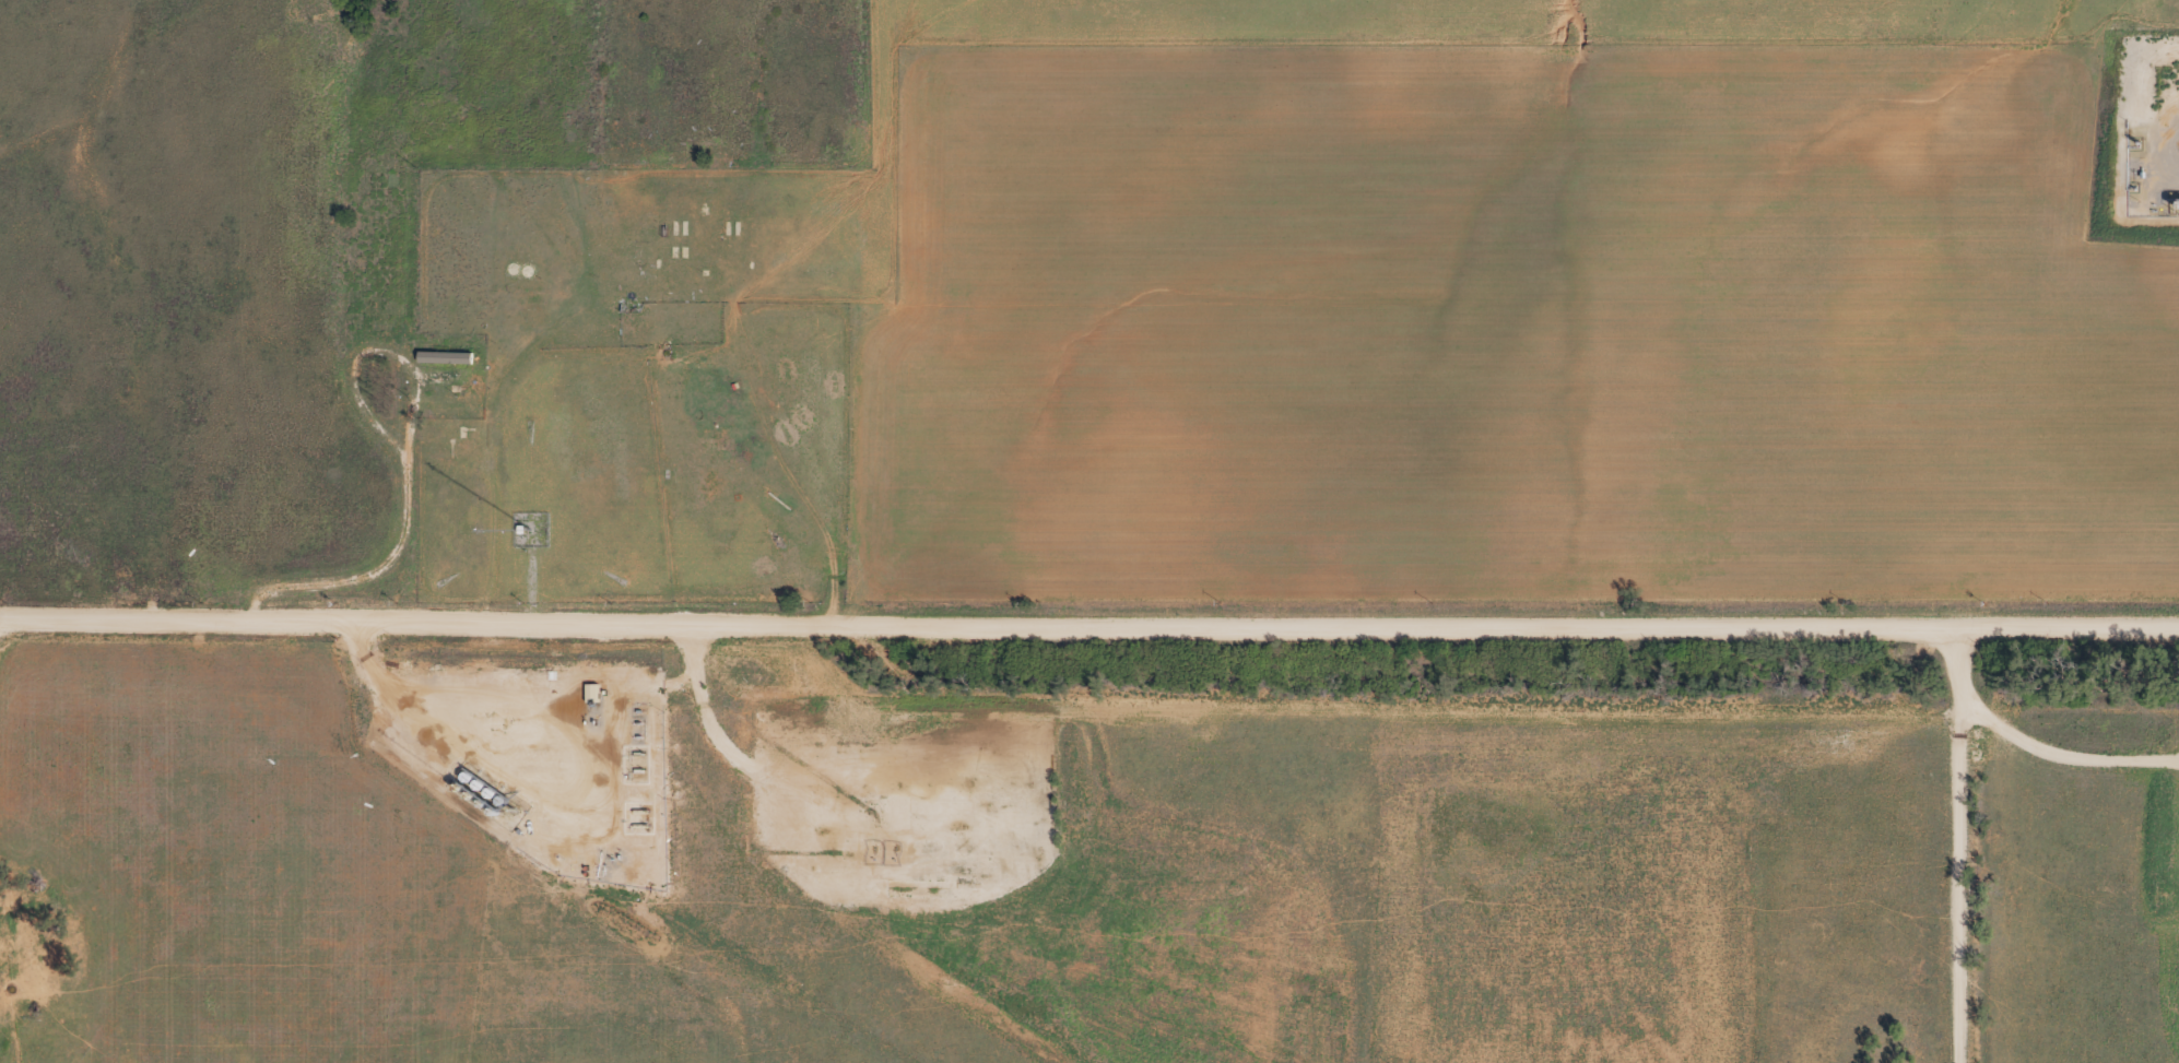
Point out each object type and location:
building: (2139, 47)
road: (1089, 621)

